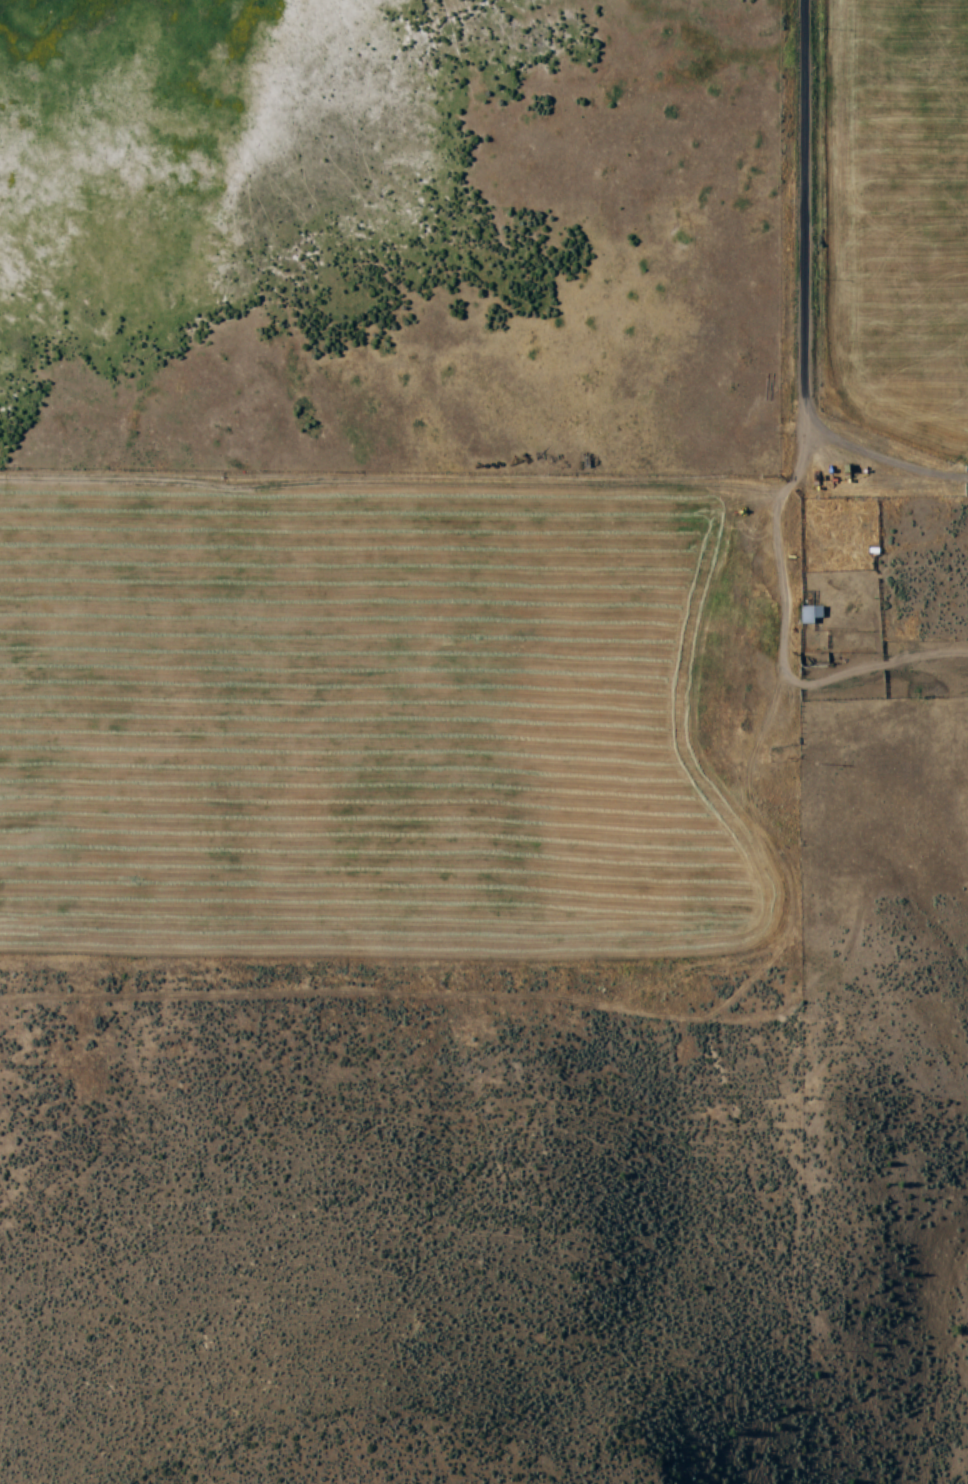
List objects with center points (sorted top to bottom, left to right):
road: (808, 237)
building: (809, 613)

